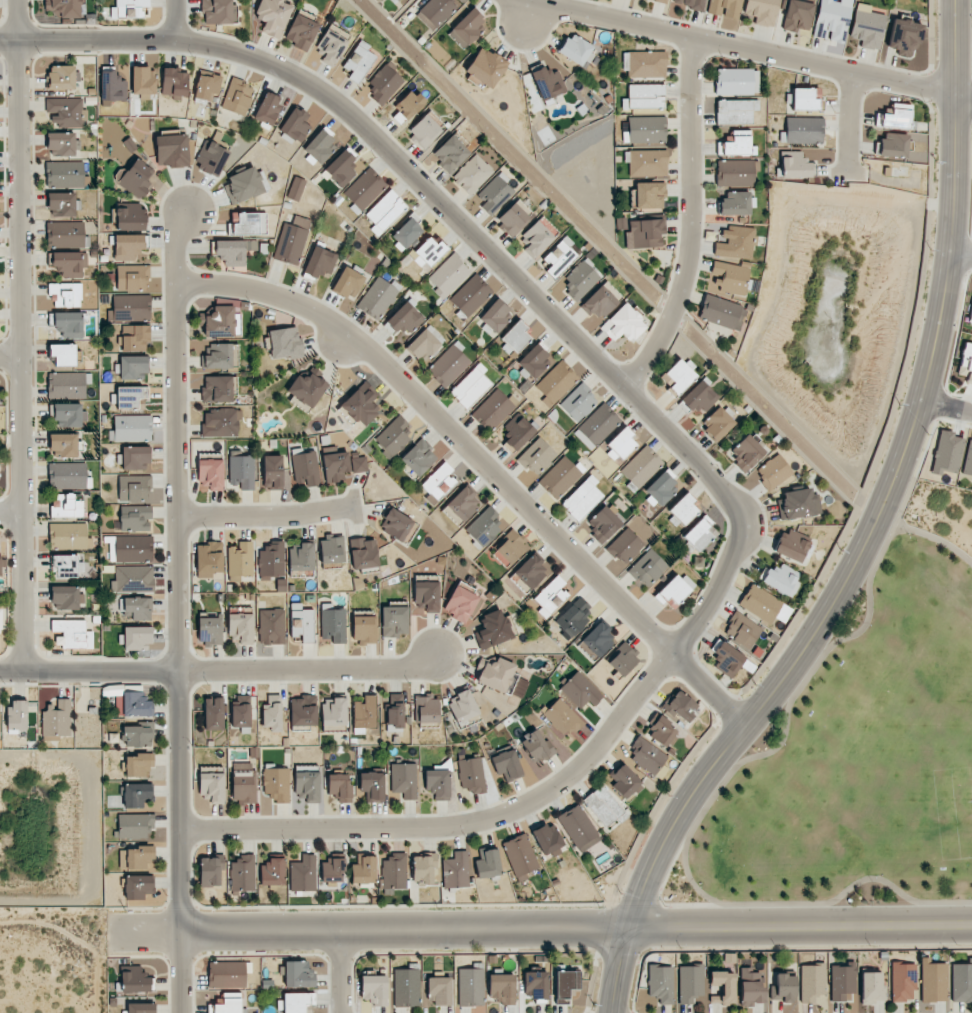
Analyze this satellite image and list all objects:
building: (398, 0)
building: (663, 0)
building: (65, 8)
building: (128, 8)
building: (725, 8)
building: (762, 11)
building: (216, 12)
building: (436, 12)
building: (273, 16)
building: (797, 16)
road: (174, 20)
building: (832, 20)
building: (867, 26)
building: (466, 28)
building: (301, 32)
building: (904, 37)
building: (332, 44)
road: (745, 48)
building: (576, 50)
building: (359, 61)
building: (645, 64)
building: (485, 67)
building: (62, 77)
building: (736, 81)
building: (143, 82)
building: (547, 82)
building: (174, 83)
building: (384, 84)
building: (206, 86)
building: (112, 87)
building: (237, 97)
building: (644, 97)
building: (804, 100)
building: (407, 105)
building: (267, 109)
building: (735, 111)
building: (64, 112)
building: (894, 117)
building: (295, 125)
road: (846, 125)
building: (646, 129)
building: (803, 129)
building: (425, 130)
building: (62, 143)
building: (736, 144)
building: (893, 145)
building: (319, 147)
building: (171, 151)
building: (450, 153)
building: (212, 159)
building: (795, 165)
building: (341, 167)
building: (735, 172)
building: (64, 174)
building: (472, 174)
building: (136, 179)
building: (243, 185)
building: (296, 188)
building: (365, 189)
building: (494, 194)
building: (650, 195)
building: (62, 204)
building: (735, 204)
building: (385, 211)
building: (130, 217)
building: (514, 217)
road: (689, 219)
building: (246, 224)
building: (644, 233)
building: (64, 234)
building: (537, 236)
building: (292, 241)
building: (735, 243)
building: (129, 246)
building: (234, 251)
building: (428, 252)
building: (559, 257)
road: (962, 257)
building: (319, 262)
building: (68, 263)
building: (448, 275)
building: (132, 277)
building: (731, 277)
building: (580, 280)
building: (713, 282)
building: (348, 283)
building: (65, 295)
building: (378, 297)
building: (601, 301)
building: (131, 307)
building: (721, 312)
building: (496, 316)
building: (970, 316)
building: (404, 319)
building: (220, 322)
building: (622, 323)
building: (68, 324)
road: (17, 335)
building: (134, 337)
building: (514, 337)
building: (285, 342)
building: (425, 344)
building: (63, 354)
road: (9, 355)
building: (219, 356)
building: (532, 362)
building: (966, 362)
building: (448, 365)
building: (132, 367)
building: (679, 377)
building: (555, 382)
building: (67, 384)
building: (470, 386)
building: (217, 389)
building: (306, 389)
building: (130, 396)
building: (699, 398)
building: (578, 402)
building: (360, 404)
road: (947, 405)
building: (492, 410)
building: (68, 415)
building: (221, 423)
building: (717, 423)
building: (596, 426)
building: (131, 428)
building: (516, 434)
building: (393, 437)
road: (670, 437)
building: (620, 444)
building: (63, 445)
building: (745, 452)
building: (946, 453)
building: (537, 456)
building: (418, 457)
building: (135, 458)
building: (968, 460)
road: (481, 463)
building: (358, 464)
building: (336, 467)
building: (640, 467)
building: (305, 469)
building: (241, 470)
building: (272, 472)
building: (773, 472)
building: (210, 474)
building: (66, 475)
building: (438, 482)
building: (134, 488)
building: (660, 490)
building: (582, 498)
building: (462, 504)
building: (795, 504)
building: (66, 506)
road: (9, 510)
building: (681, 510)
road: (264, 516)
building: (134, 518)
building: (602, 523)
building: (396, 524)
building: (484, 527)
building: (698, 534)
building: (67, 535)
road: (869, 536)
road: (935, 539)
building: (793, 545)
building: (624, 546)
building: (130, 548)
building: (332, 549)
building: (509, 549)
building: (363, 553)
building: (301, 557)
building: (208, 559)
building: (240, 559)
building: (271, 560)
building: (0, 565)
building: (65, 566)
building: (646, 569)
building: (530, 571)
building: (132, 579)
building: (782, 579)
building: (674, 589)
building: (65, 597)
building: (425, 597)
building: (550, 597)
building: (460, 602)
building: (764, 605)
building: (137, 607)
road: (177, 609)
building: (573, 617)
building: (394, 621)
building: (0, 622)
building: (301, 622)
building: (333, 623)
building: (271, 626)
building: (364, 626)
building: (240, 627)
building: (209, 630)
building: (492, 630)
building: (742, 630)
building: (72, 634)
building: (136, 637)
building: (597, 639)
building: (727, 659)
building: (622, 660)
road: (222, 671)
building: (495, 674)
building: (580, 691)
building: (136, 704)
building: (462, 706)
building: (680, 706)
building: (426, 708)
building: (241, 711)
building: (303, 711)
building: (334, 712)
building: (394, 712)
building: (213, 713)
building: (272, 713)
building: (364, 714)
building: (16, 715)
building: (562, 718)
building: (661, 732)
building: (138, 735)
building: (536, 747)
park: (847, 755)
building: (647, 756)
building: (138, 765)
building: (506, 765)
building: (471, 774)
building: (404, 780)
building: (624, 782)
building: (276, 783)
building: (437, 784)
building: (372, 785)
building: (211, 786)
building: (242, 786)
building: (307, 786)
building: (340, 786)
road: (716, 791)
building: (136, 794)
building: (604, 806)
building: (135, 826)
building: (578, 828)
building: (548, 840)
building: (137, 856)
building: (520, 856)
building: (487, 863)
building: (425, 869)
building: (332, 870)
building: (363, 870)
building: (455, 870)
building: (210, 871)
building: (394, 871)
building: (242, 872)
building: (272, 872)
building: (303, 874)
building: (137, 886)
road: (649, 905)
road: (692, 905)
road: (540, 928)
road: (342, 972)
building: (226, 974)
building: (298, 974)
building: (135, 980)
building: (842, 981)
building: (902, 981)
building: (933, 981)
building: (961, 981)
building: (660, 983)
building: (689, 983)
building: (812, 983)
building: (535, 984)
building: (565, 985)
building: (750, 985)
building: (470, 986)
building: (406, 987)
building: (502, 987)
building: (783, 987)
building: (871, 988)
building: (374, 989)
building: (440, 990)
building: (298, 1002)
building: (227, 1004)
building: (141, 1008)

